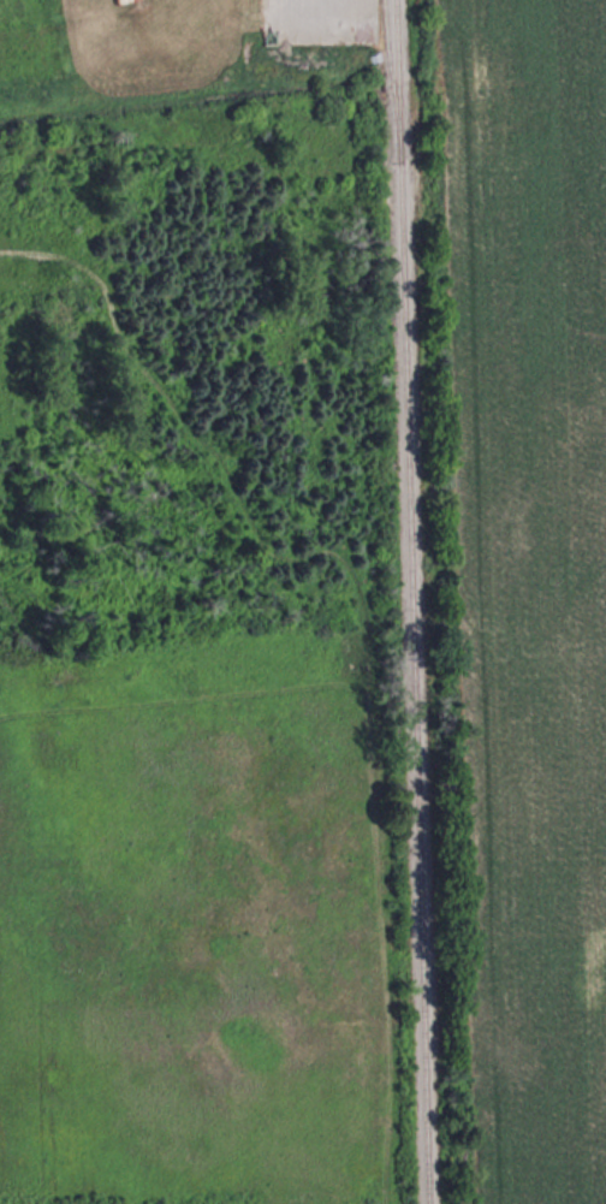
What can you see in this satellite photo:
railway: (392, 81)
railway: (412, 601)

